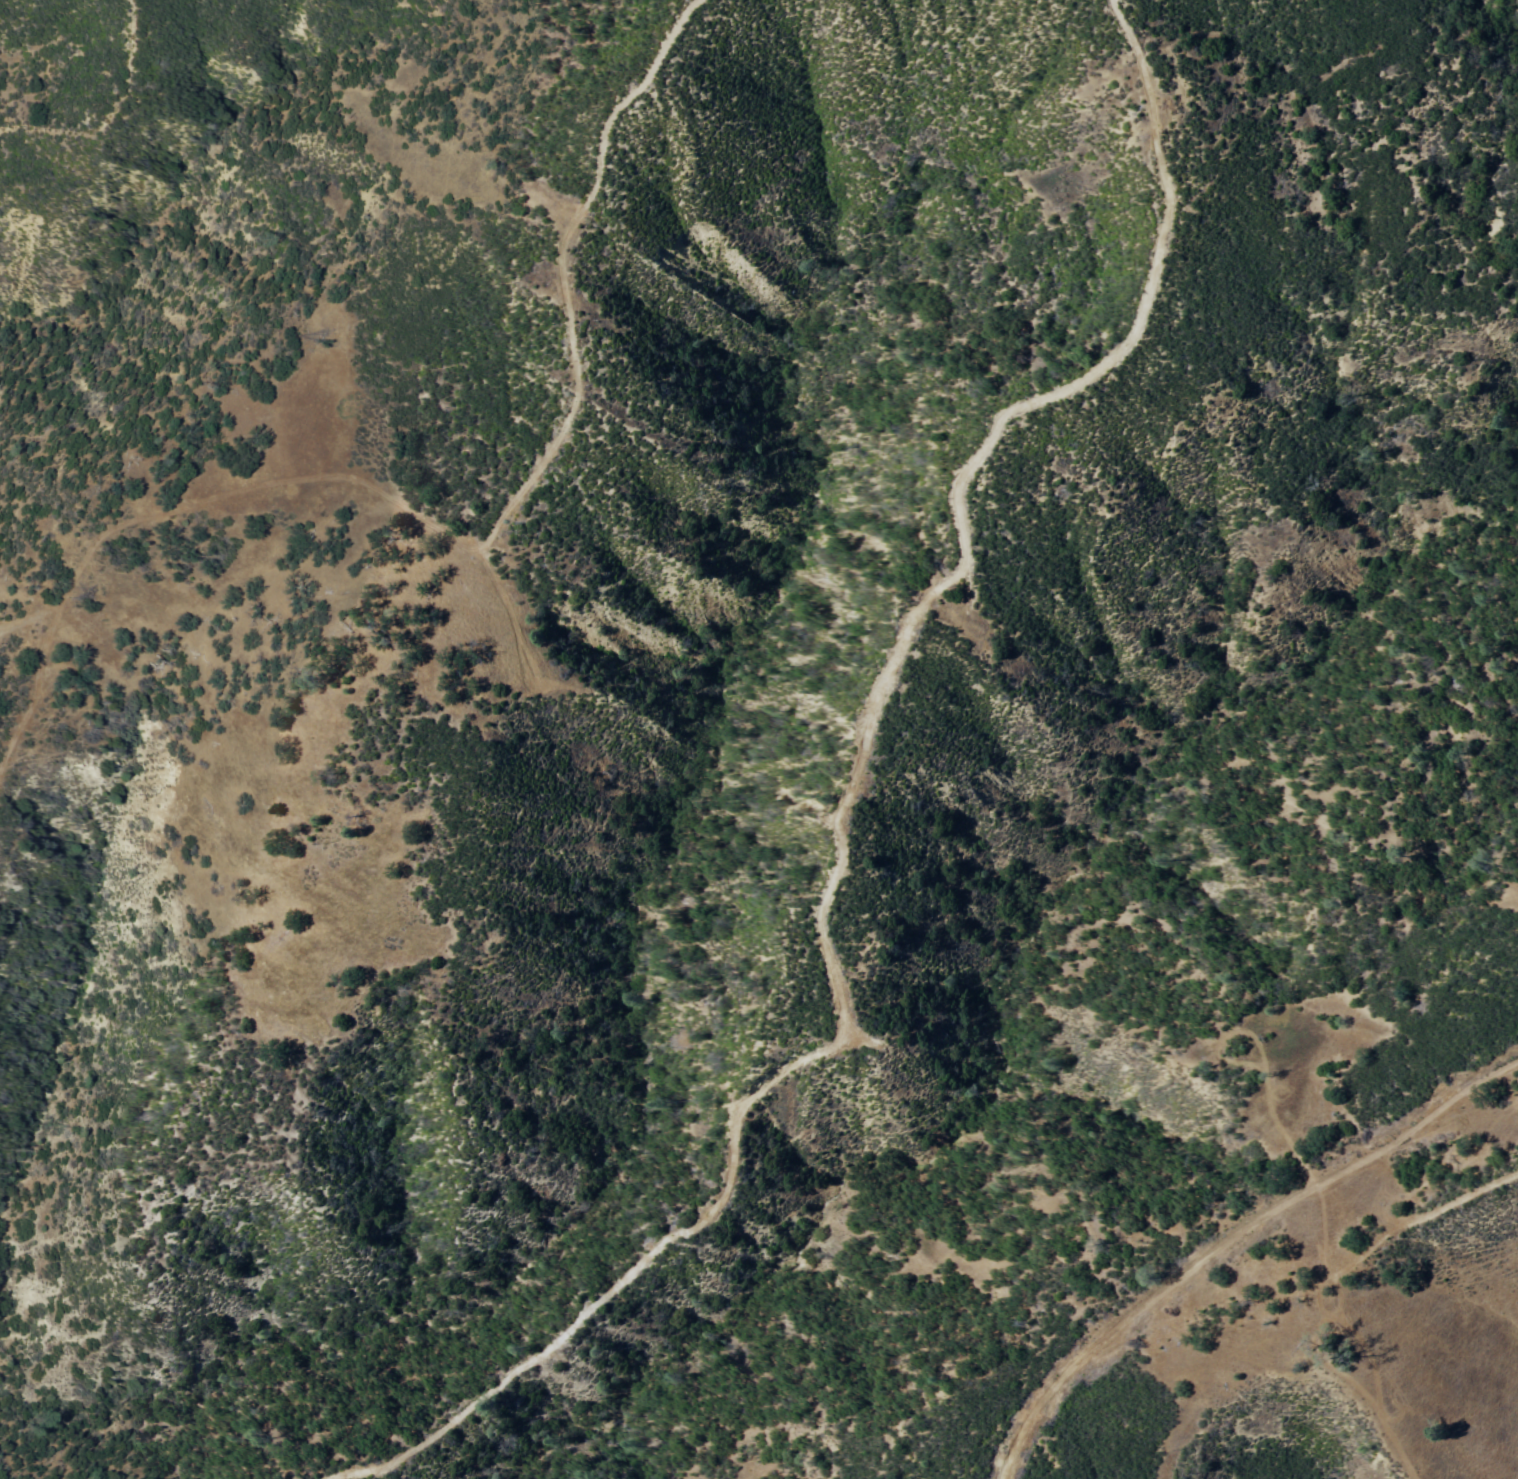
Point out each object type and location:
road: (1229, 1238)

